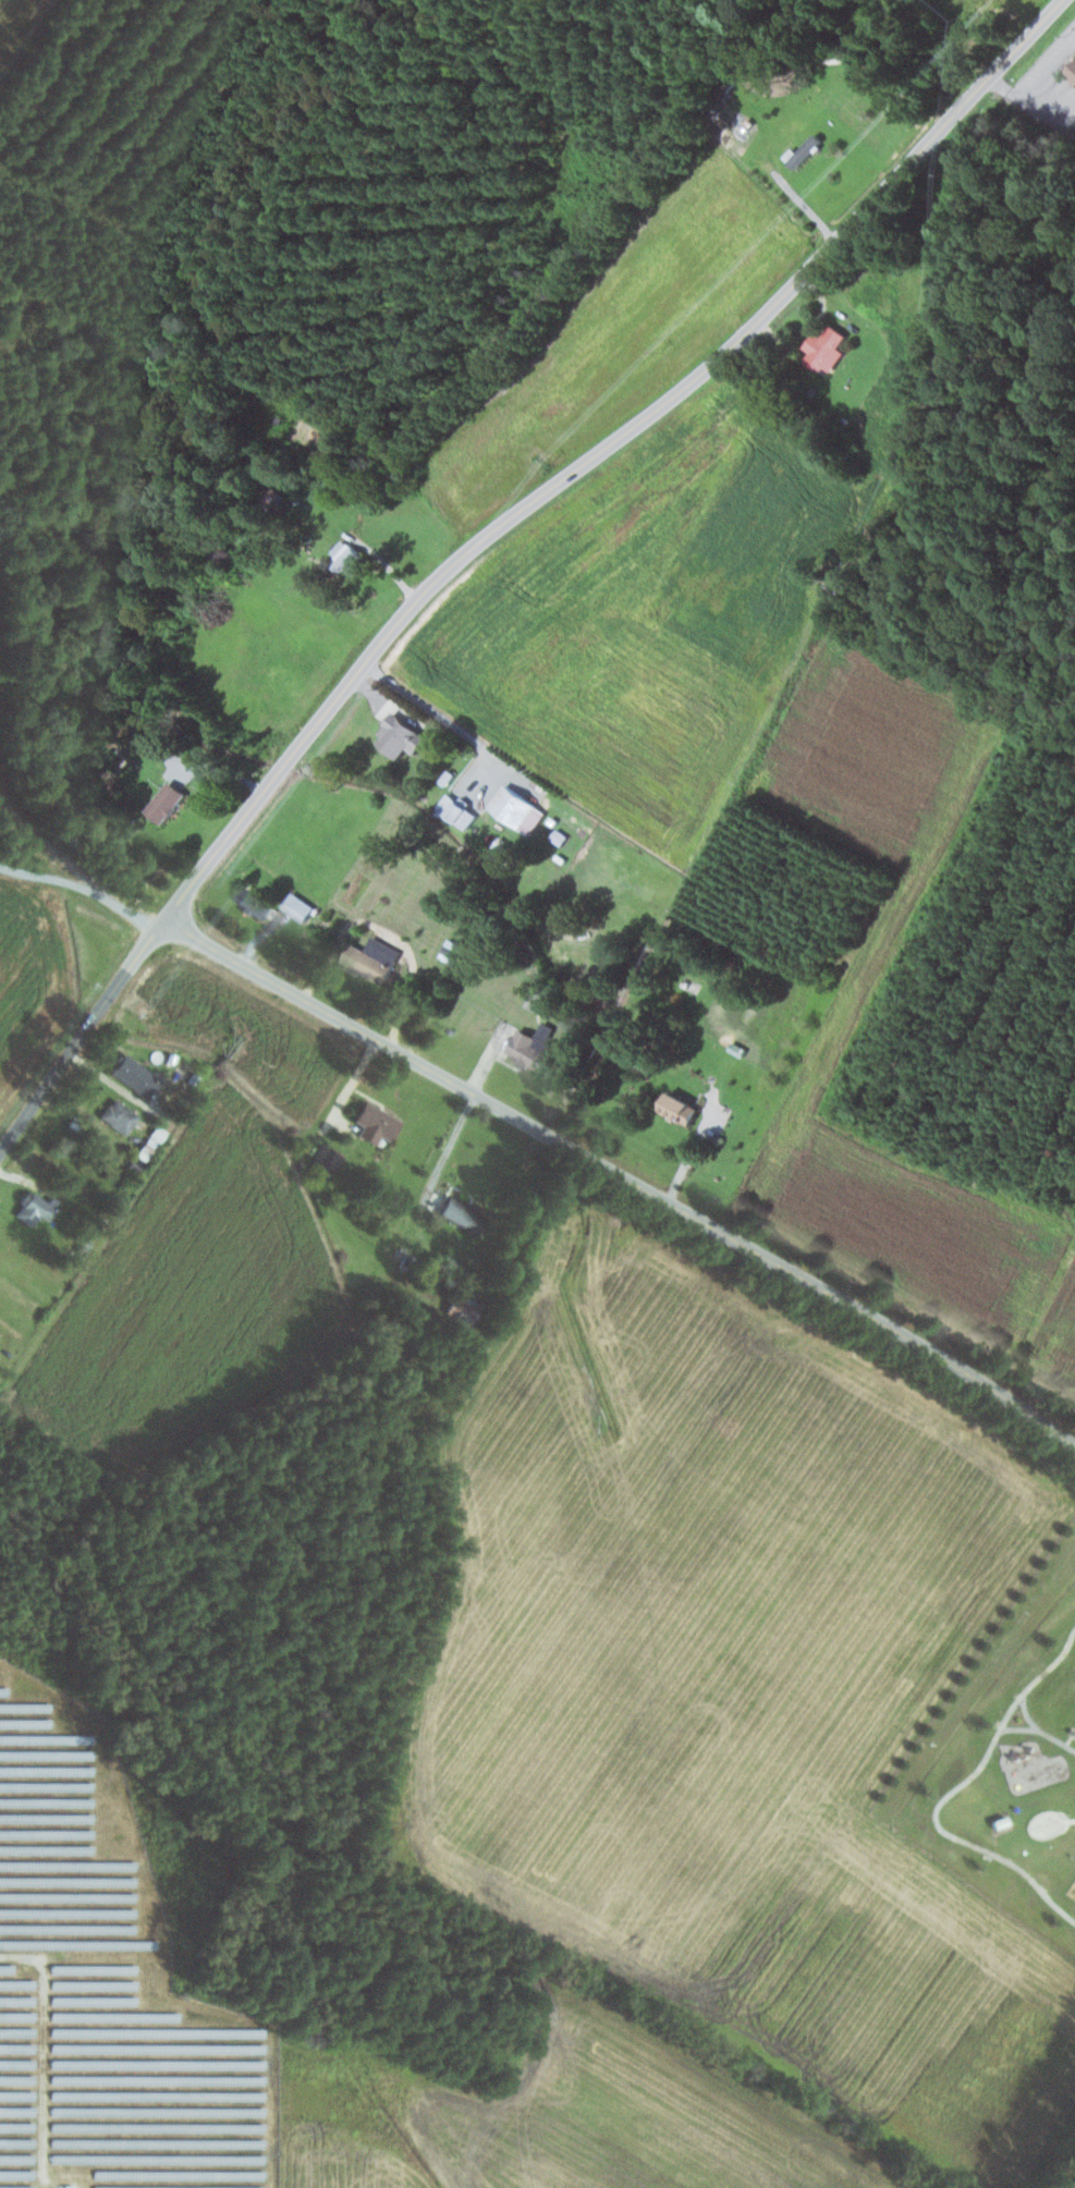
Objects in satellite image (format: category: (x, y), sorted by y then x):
building: (1074, 70)
building: (806, 148)
building: (828, 347)
road: (607, 449)
building: (350, 557)
building: (402, 736)
building: (168, 802)
building: (515, 806)
building: (461, 810)
building: (500, 851)
road: (86, 887)
building: (256, 904)
building: (301, 906)
building: (375, 958)
building: (537, 994)
road: (86, 1037)
building: (535, 1048)
building: (137, 1077)
building: (682, 1109)
building: (120, 1116)
building: (377, 1123)
building: (327, 1161)
road: (626, 1175)
building: (36, 1208)
building: (464, 1214)
building: (464, 1308)
crop: (1061, 1344)
crop: (730, 1685)
road: (1024, 1691)
road: (1017, 1728)
park: (1006, 1758)
road: (940, 1826)
park: (1072, 1891)
solar farm: (107, 1985)
crop: (554, 2114)

